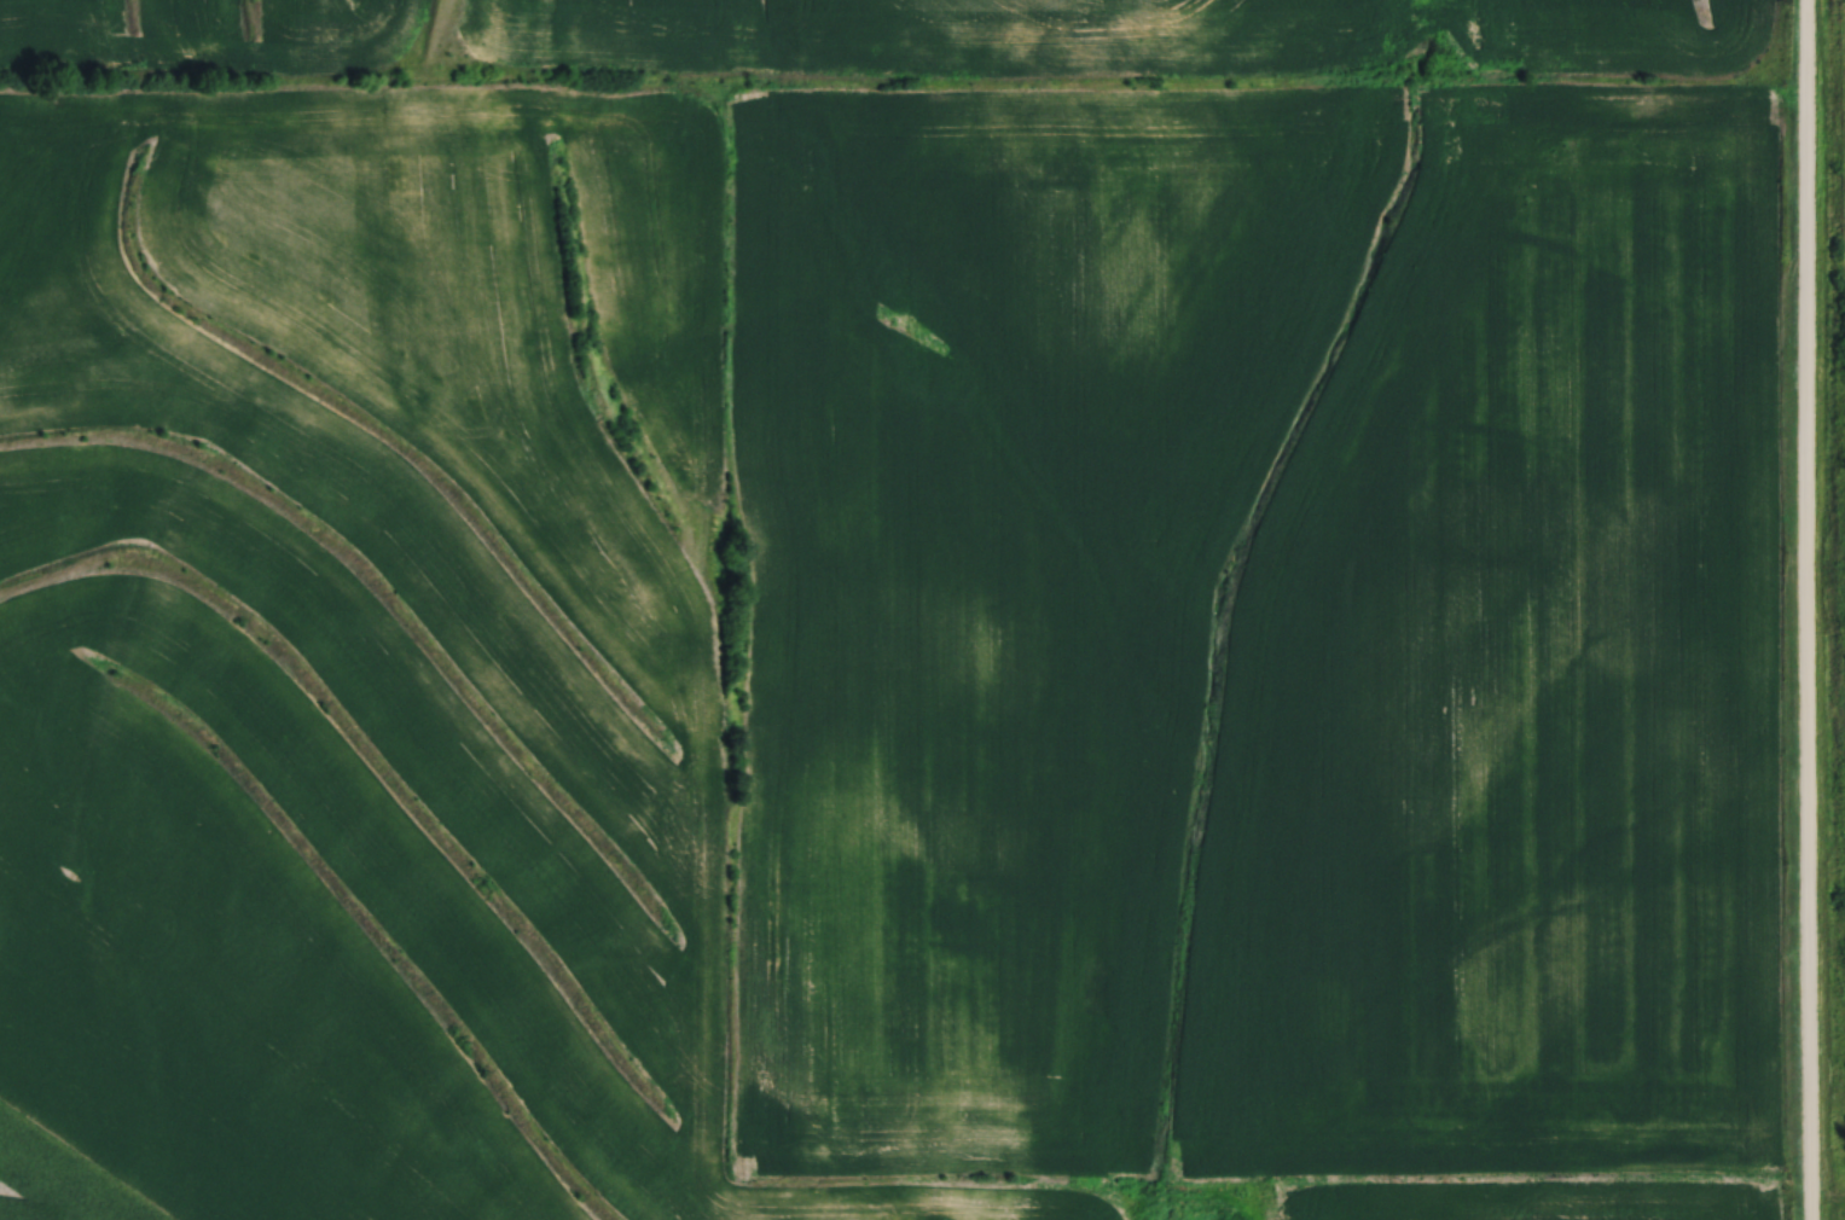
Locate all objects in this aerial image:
road: (1805, 610)

